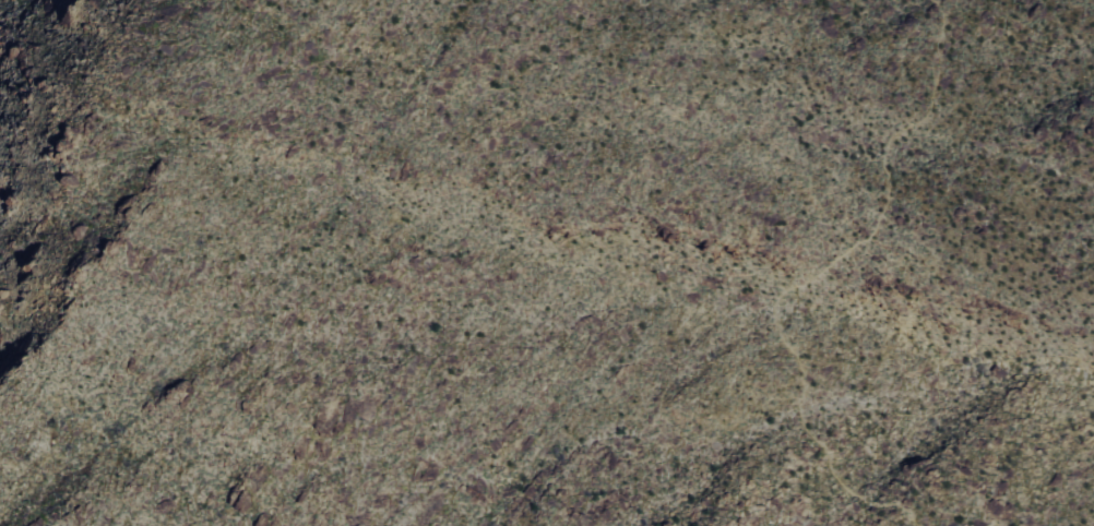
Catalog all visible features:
road: (797, 267)

